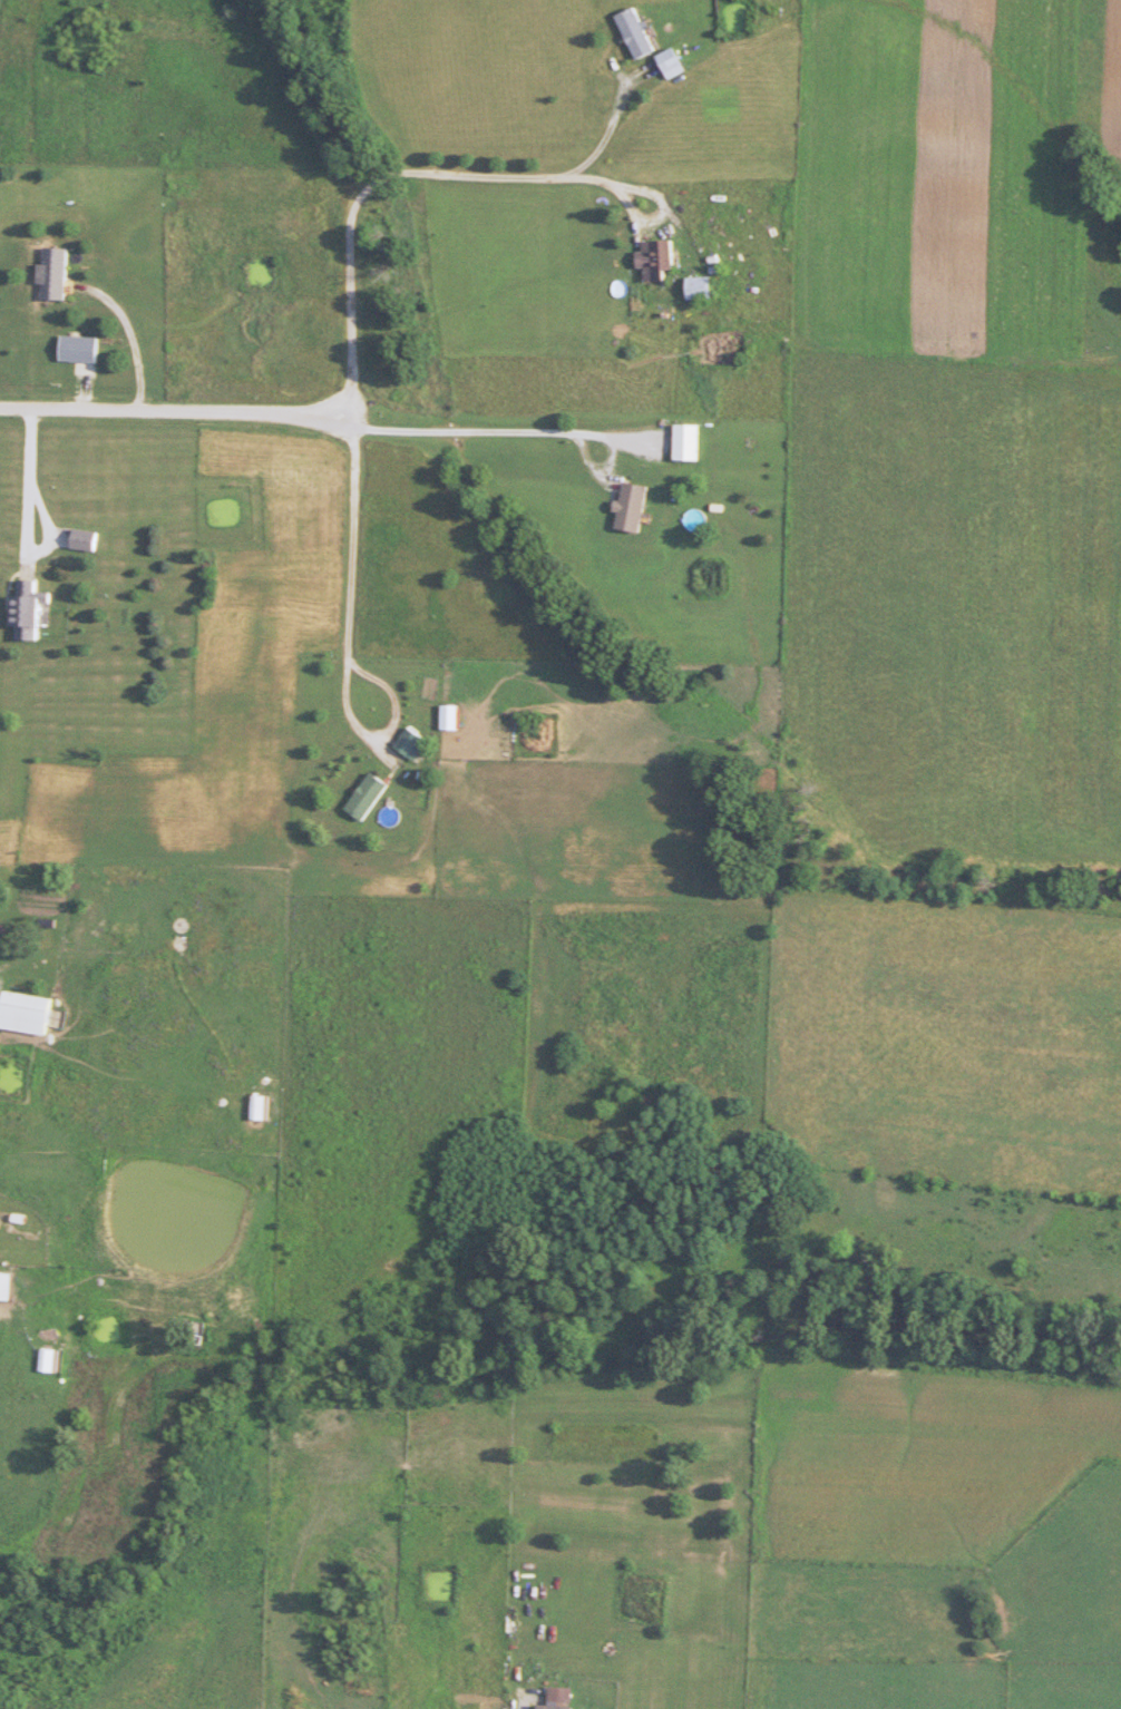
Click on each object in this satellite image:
building: (642, 32)
building: (676, 62)
road: (621, 75)
road: (593, 183)
road: (664, 204)
building: (665, 260)
building: (60, 274)
building: (706, 289)
road: (353, 292)
road: (130, 336)
building: (85, 349)
road: (172, 411)
road: (487, 432)
building: (692, 442)
road: (31, 494)
building: (637, 507)
building: (90, 540)
building: (36, 613)
road: (396, 712)
building: (412, 742)
building: (371, 797)
road: (156, 945)
road: (32, 958)
building: (32, 1014)
building: (8, 1287)
building: (567, 1698)
road: (523, 1703)

